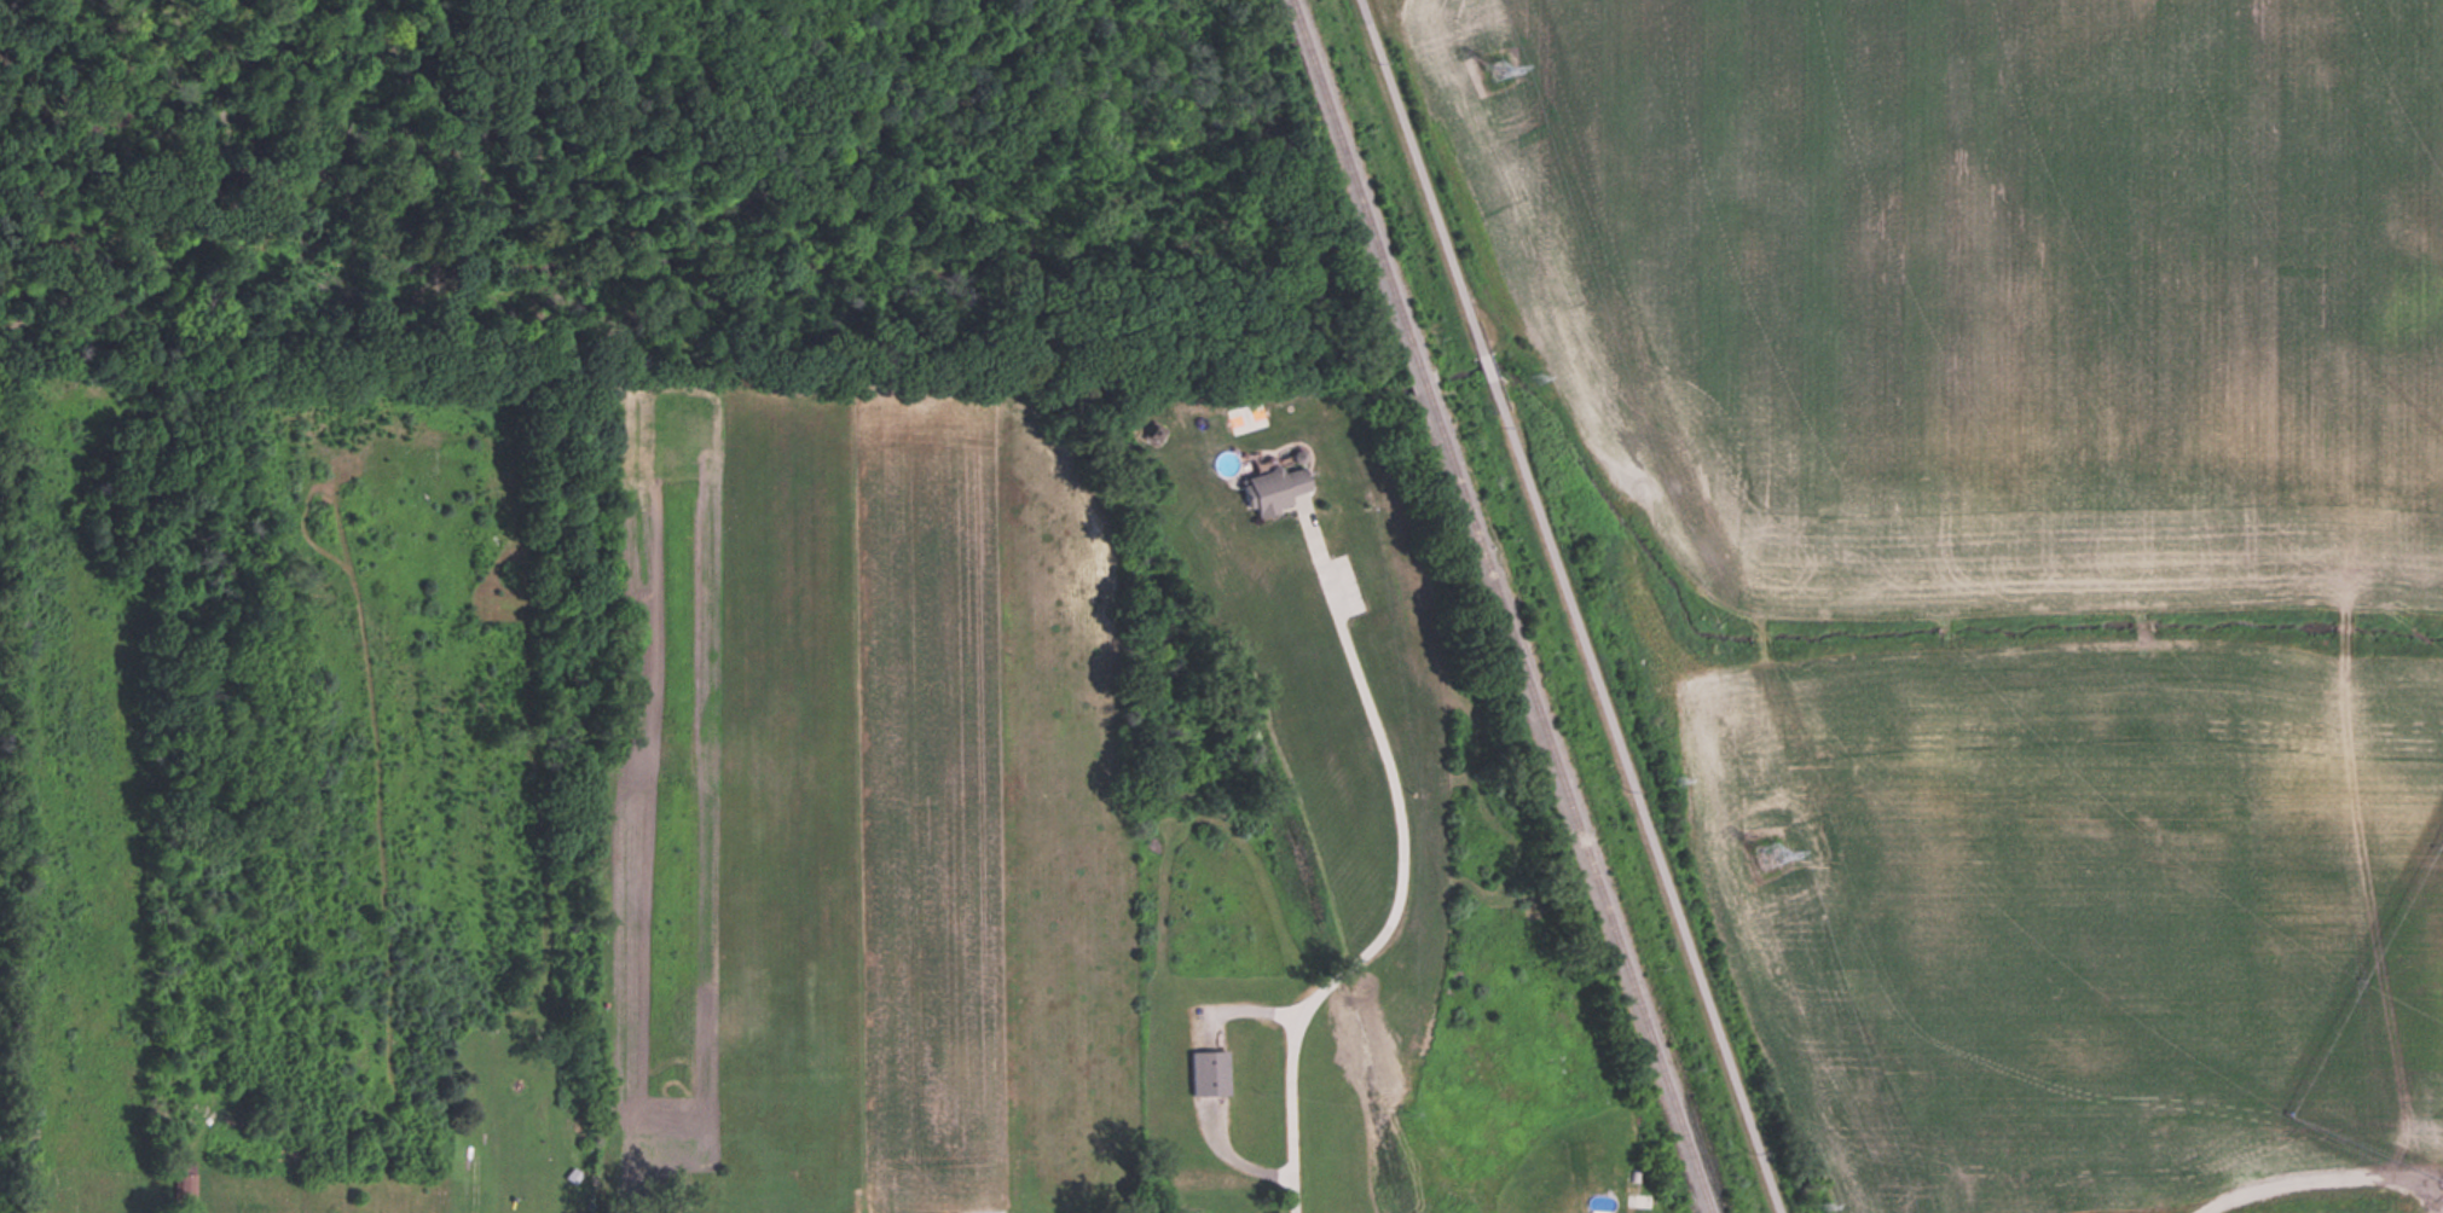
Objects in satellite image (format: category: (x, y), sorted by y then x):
power tower: (1500, 74)
building: (1274, 491)
railway: (1505, 605)
road: (1567, 606)
power tower: (1679, 776)
power tower: (1773, 855)
road: (1400, 892)
building: (1210, 1075)
road: (2318, 1173)
building: (186, 1182)

